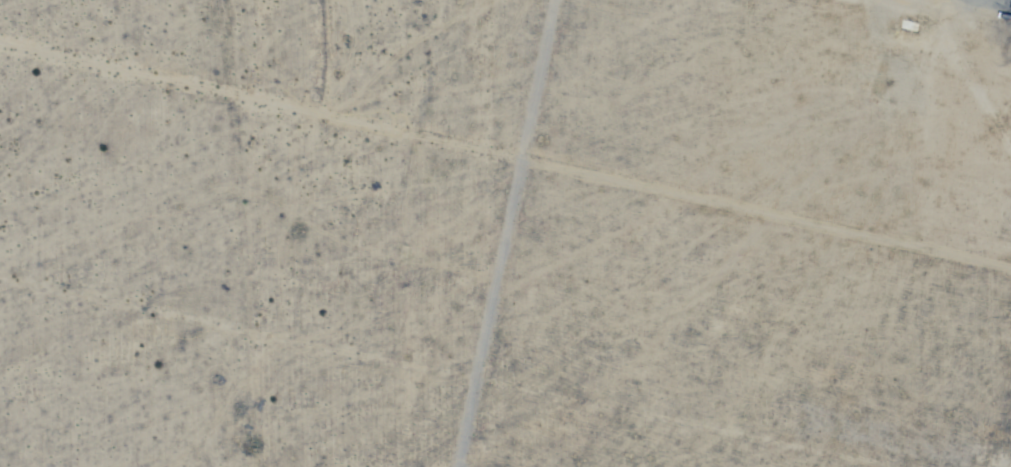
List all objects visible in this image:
road: (995, 5)
airport: (977, 9)

